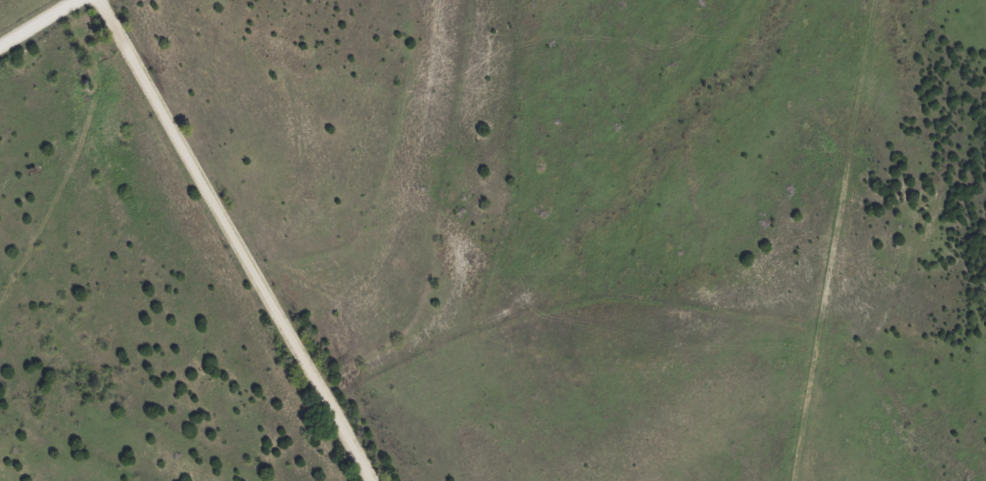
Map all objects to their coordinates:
road: (43, 25)
road: (239, 240)

